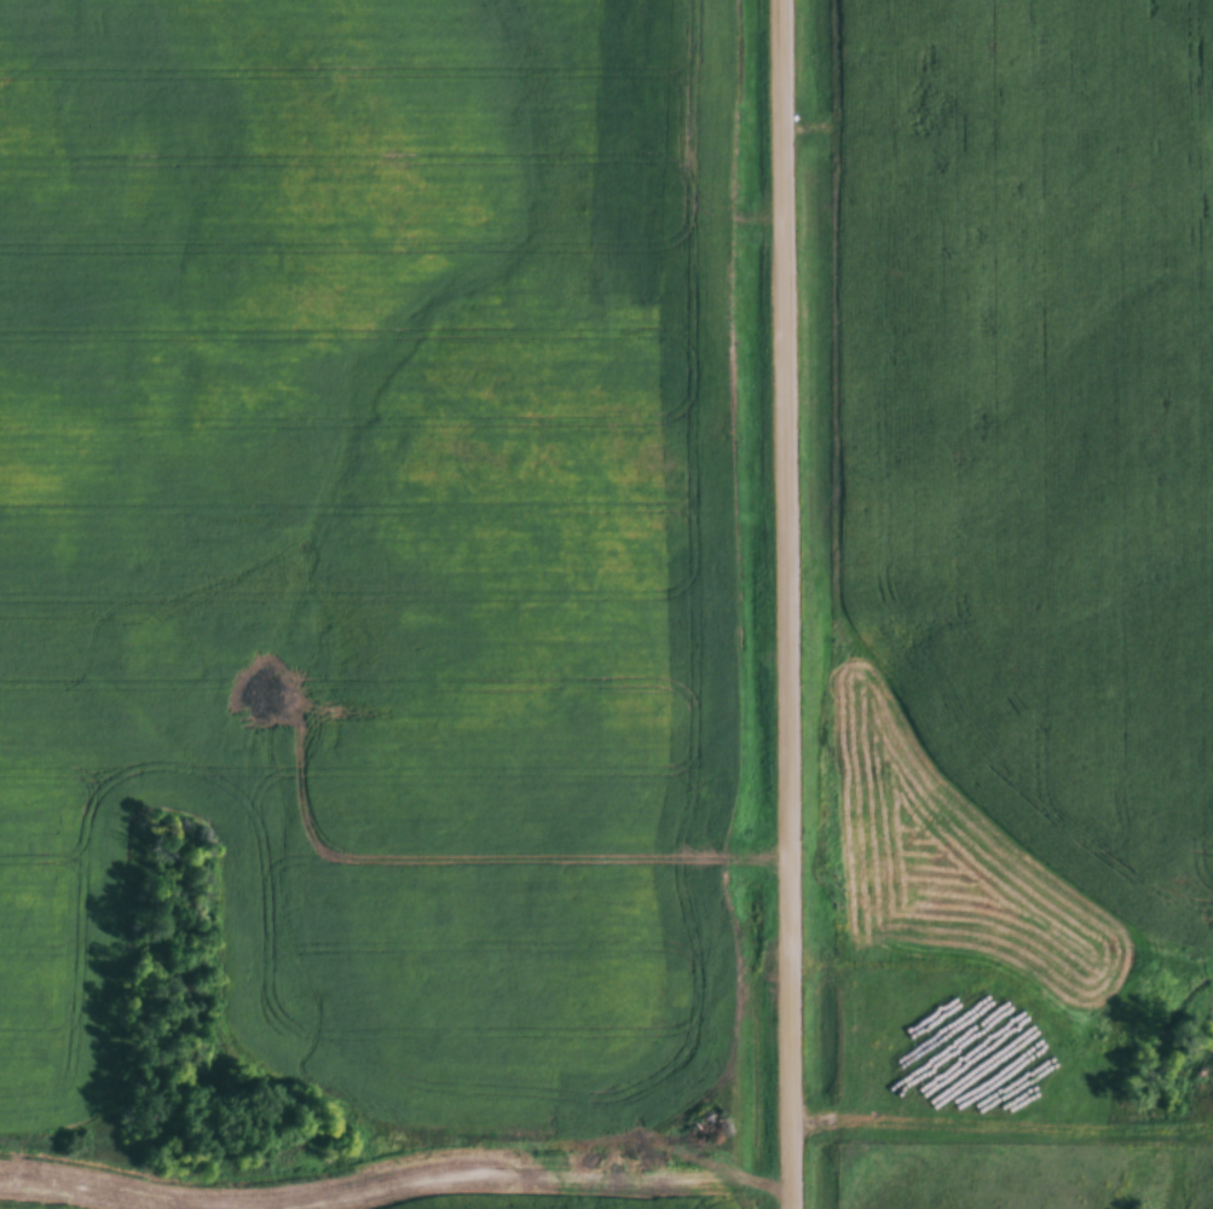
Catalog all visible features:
road: (786, 604)

